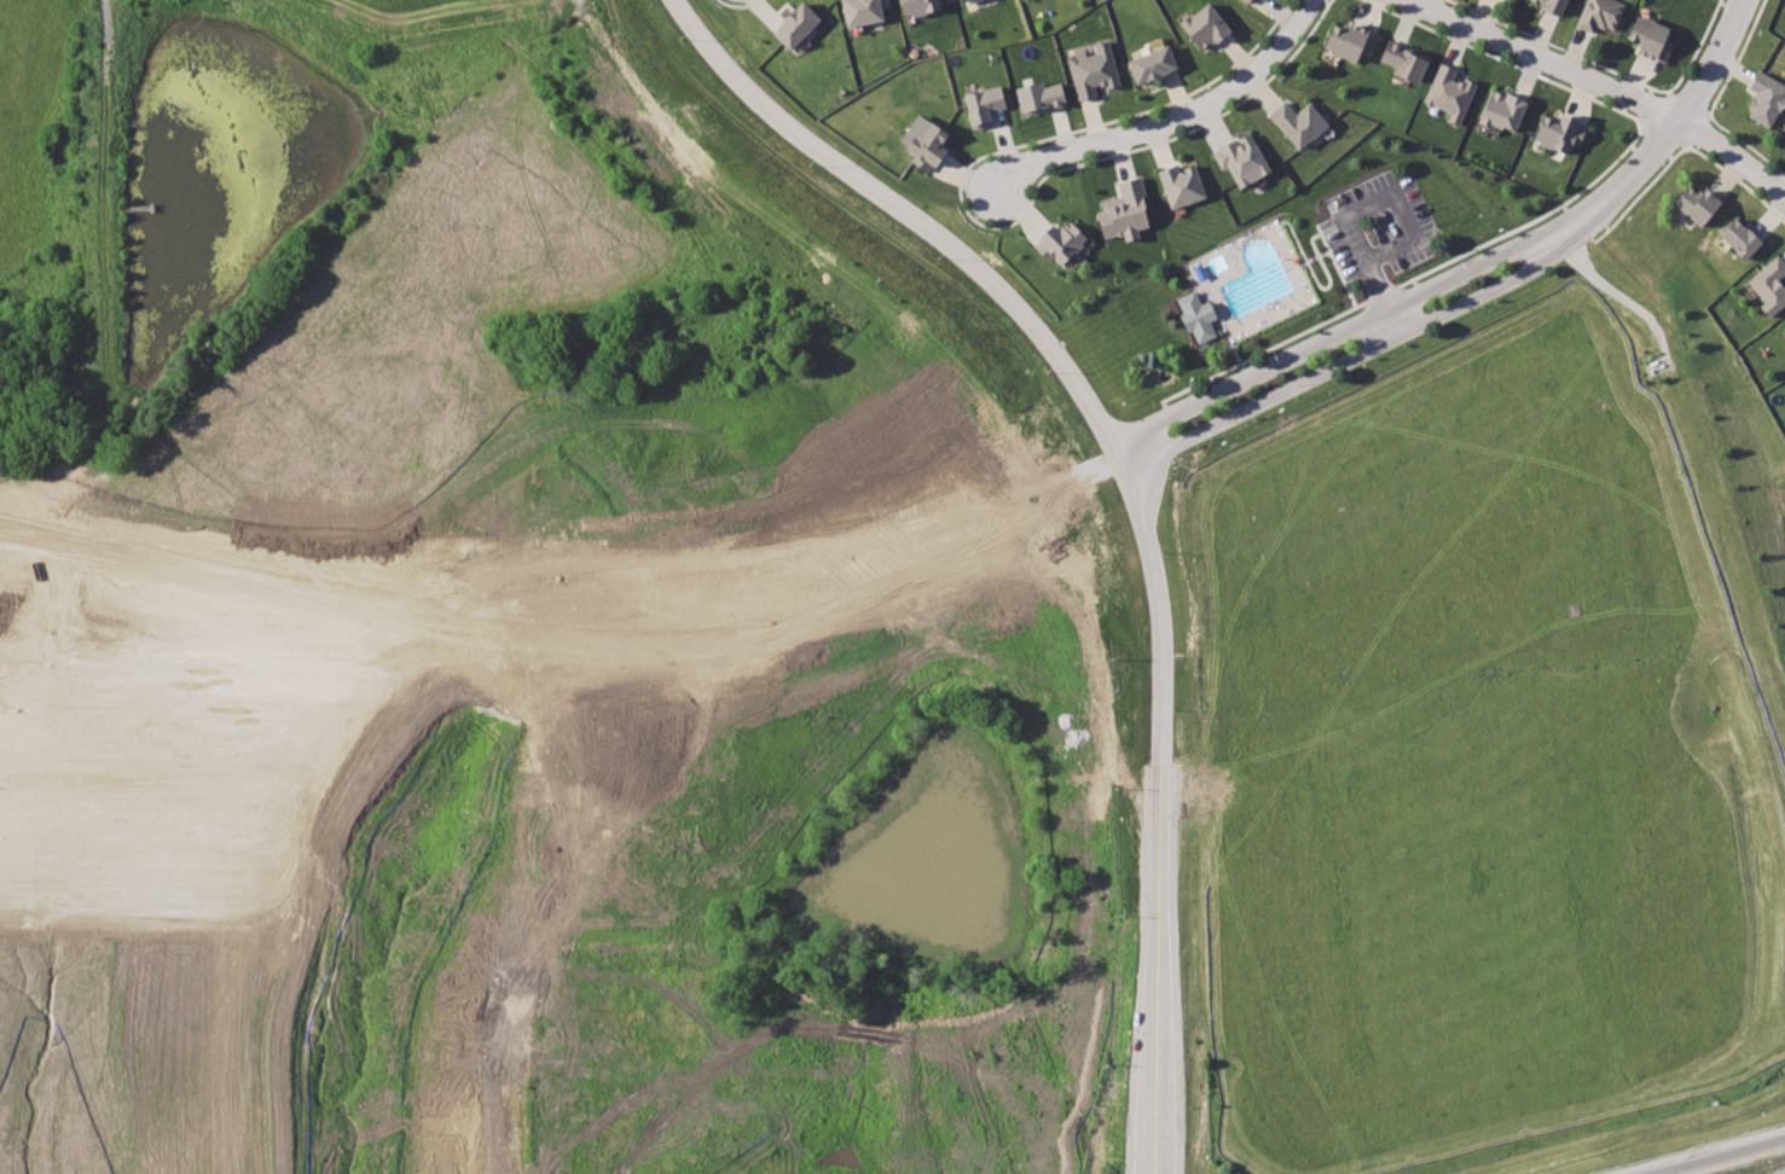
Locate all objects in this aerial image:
building: (969, 1)
building: (1246, 1)
building: (1551, 5)
building: (920, 6)
building: (865, 11)
building: (1598, 16)
building: (796, 24)
building: (1205, 24)
building: (1653, 39)
building: (1351, 42)
road: (1541, 59)
building: (1407, 62)
building: (1153, 64)
building: (1094, 71)
building: (1449, 91)
building: (1039, 98)
building: (1767, 99)
building: (984, 105)
building: (1505, 111)
road: (1169, 121)
building: (1300, 123)
road: (1669, 129)
building: (1561, 132)
building: (928, 144)
road: (1733, 156)
building: (1242, 161)
building: (1183, 185)
building: (1699, 204)
building: (1126, 210)
road: (1404, 215)
parking lot: (1375, 226)
road: (926, 229)
building: (1741, 237)
building: (1062, 242)
road: (1372, 275)
road: (1408, 278)
road: (1314, 281)
building: (1770, 284)
road: (1621, 295)
building: (1198, 316)
road: (1327, 338)
road: (1238, 361)
road: (1338, 361)
fountain: (1161, 377)
road: (545, 562)
road: (552, 591)
road: (562, 645)
road: (569, 675)
road: (1172, 839)
road: (1135, 843)
road: (1714, 1156)

